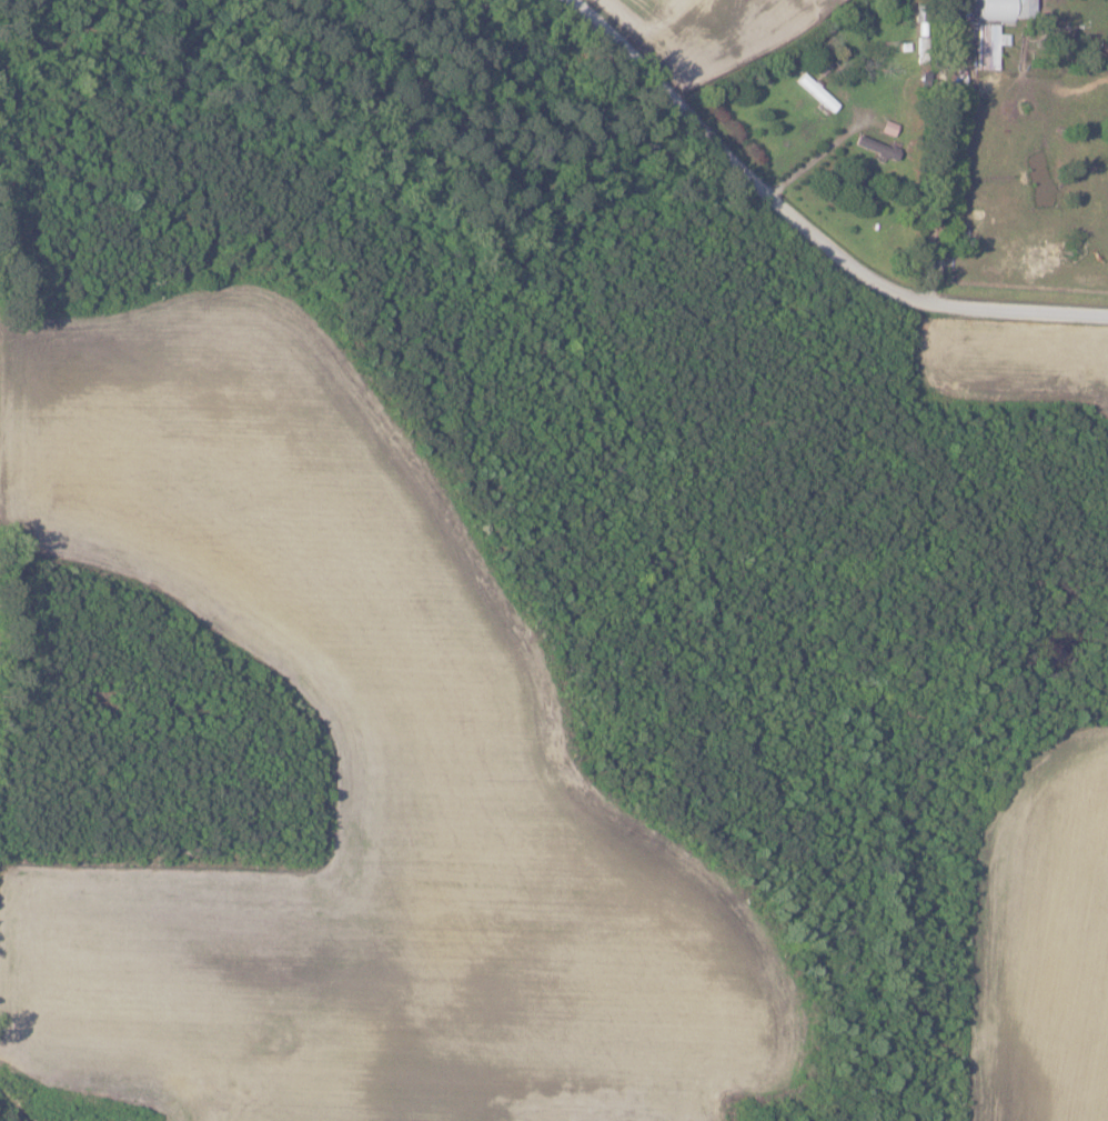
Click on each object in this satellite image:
building: (996, 27)
building: (816, 91)
building: (888, 127)
building: (877, 146)
road: (935, 150)
road: (807, 228)

